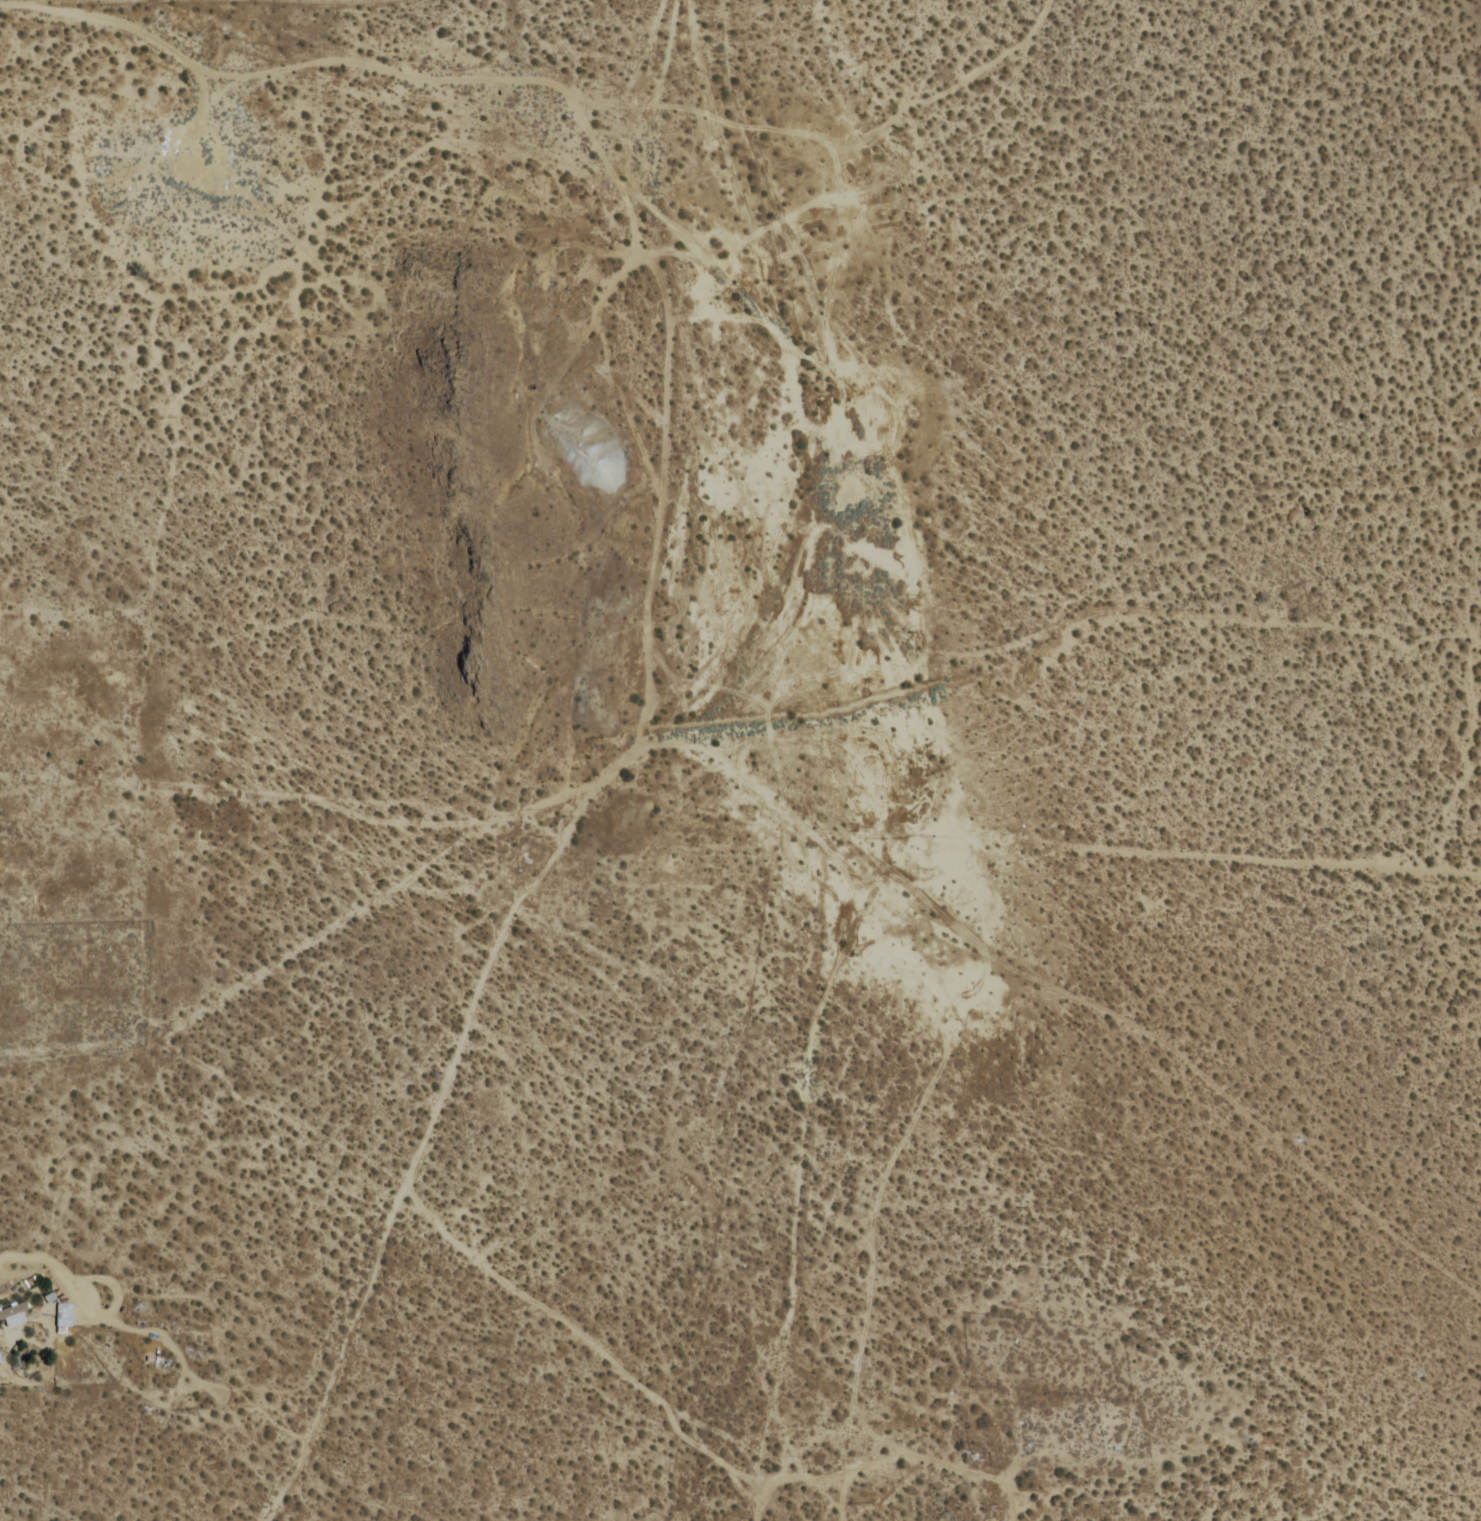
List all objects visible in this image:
building: (14, 1316)
building: (0, 1362)

